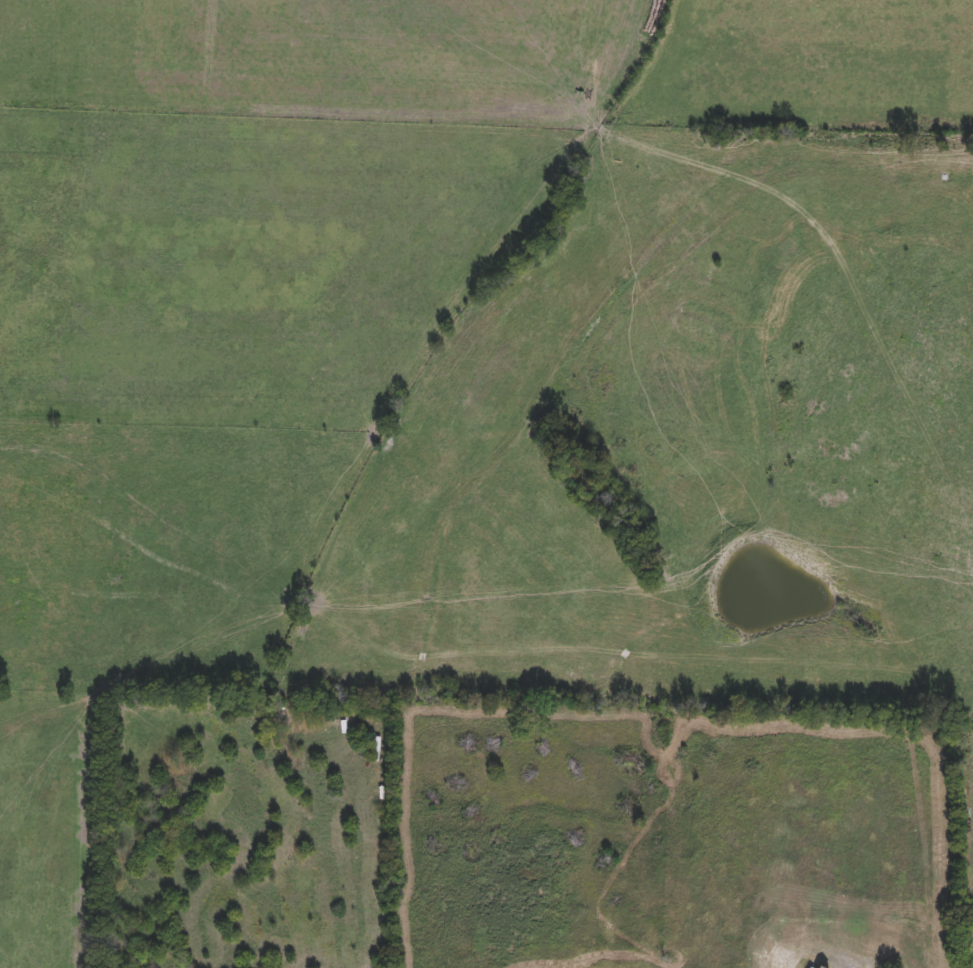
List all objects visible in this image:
building: (971, 750)

